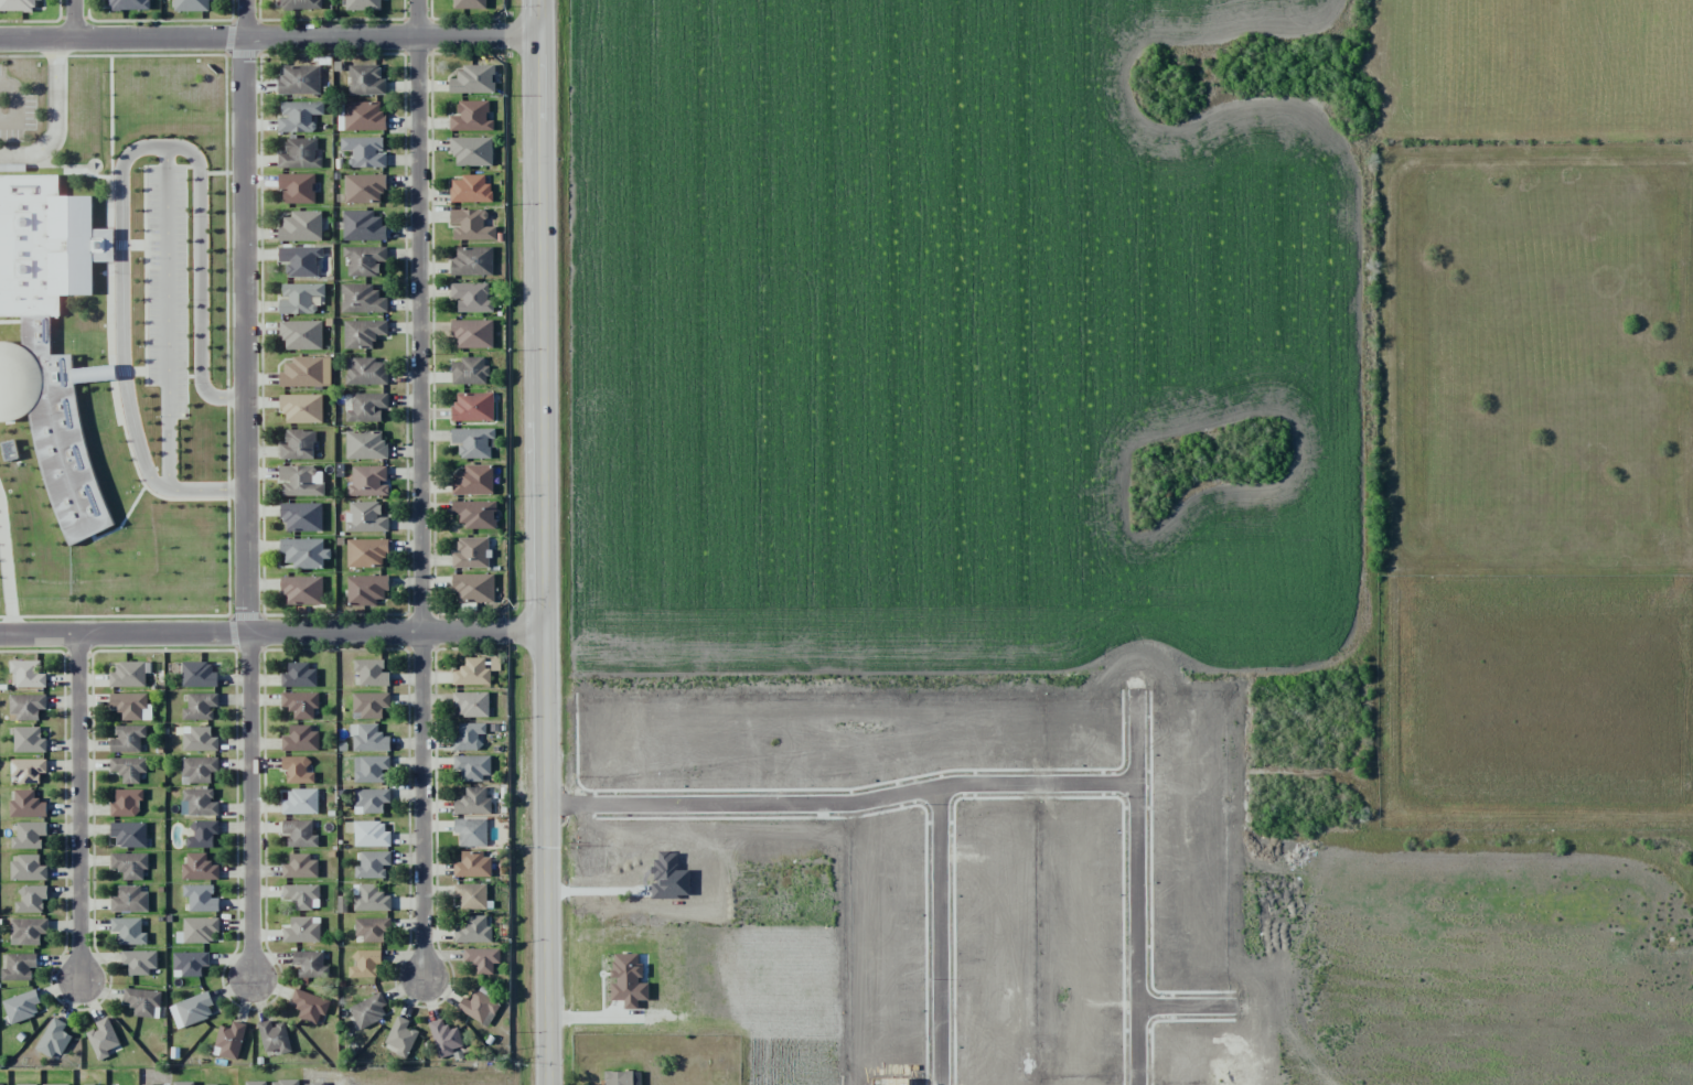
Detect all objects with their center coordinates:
building: (470, 3)
building: (128, 4)
building: (299, 4)
building: (363, 4)
building: (17, 6)
building: (191, 6)
road: (72, 19)
road: (268, 35)
building: (366, 79)
building: (473, 79)
building: (299, 80)
building: (298, 116)
building: (363, 116)
building: (471, 116)
road: (56, 118)
building: (471, 150)
building: (364, 151)
building: (300, 153)
building: (297, 187)
building: (364, 187)
building: (471, 189)
road: (121, 193)
building: (470, 225)
building: (301, 226)
building: (363, 226)
building: (300, 260)
building: (364, 260)
building: (472, 261)
parking lot: (164, 284)
building: (472, 297)
building: (299, 298)
building: (362, 299)
road: (167, 318)
building: (363, 333)
building: (472, 333)
building: (301, 334)
building: (47, 337)
building: (366, 370)
building: (469, 370)
building: (306, 372)
building: (364, 406)
building: (473, 407)
building: (301, 408)
building: (473, 442)
building: (298, 444)
building: (365, 445)
building: (473, 480)
building: (301, 481)
building: (368, 481)
road: (246, 490)
road: (418, 490)
building: (474, 514)
building: (302, 516)
building: (365, 517)
road: (544, 541)
building: (304, 552)
building: (366, 552)
building: (471, 552)
building: (473, 588)
building: (302, 589)
building: (366, 589)
road: (272, 634)
building: (371, 672)
building: (472, 673)
building: (28, 674)
building: (128, 674)
building: (200, 674)
building: (299, 676)
building: (300, 703)
building: (471, 703)
building: (369, 705)
building: (25, 706)
building: (130, 706)
building: (200, 706)
building: (468, 735)
building: (368, 738)
building: (128, 739)
building: (199, 739)
building: (300, 739)
building: (29, 740)
building: (472, 766)
building: (128, 767)
building: (197, 769)
building: (371, 769)
building: (28, 770)
building: (297, 770)
building: (371, 801)
building: (126, 802)
building: (199, 802)
building: (300, 802)
building: (473, 802)
building: (26, 805)
road: (77, 805)
building: (471, 831)
building: (202, 832)
building: (299, 832)
building: (368, 832)
building: (29, 835)
building: (129, 835)
building: (130, 864)
building: (473, 864)
building: (373, 866)
building: (301, 867)
building: (28, 868)
building: (199, 868)
building: (300, 894)
building: (471, 895)
building: (201, 898)
building: (31, 899)
building: (371, 899)
building: (129, 900)
building: (197, 930)
building: (373, 930)
building: (26, 931)
building: (128, 931)
building: (302, 931)
building: (473, 931)
building: (482, 959)
building: (140, 962)
building: (190, 964)
building: (310, 964)
building: (365, 964)
building: (19, 967)
building: (628, 980)
building: (142, 1001)
building: (309, 1005)
building: (21, 1006)
building: (479, 1007)
building: (191, 1009)
building: (368, 1011)
road: (596, 1020)
building: (274, 1036)
building: (401, 1036)
building: (444, 1036)
building: (54, 1039)
building: (103, 1039)
building: (229, 1040)
building: (622, 1077)

